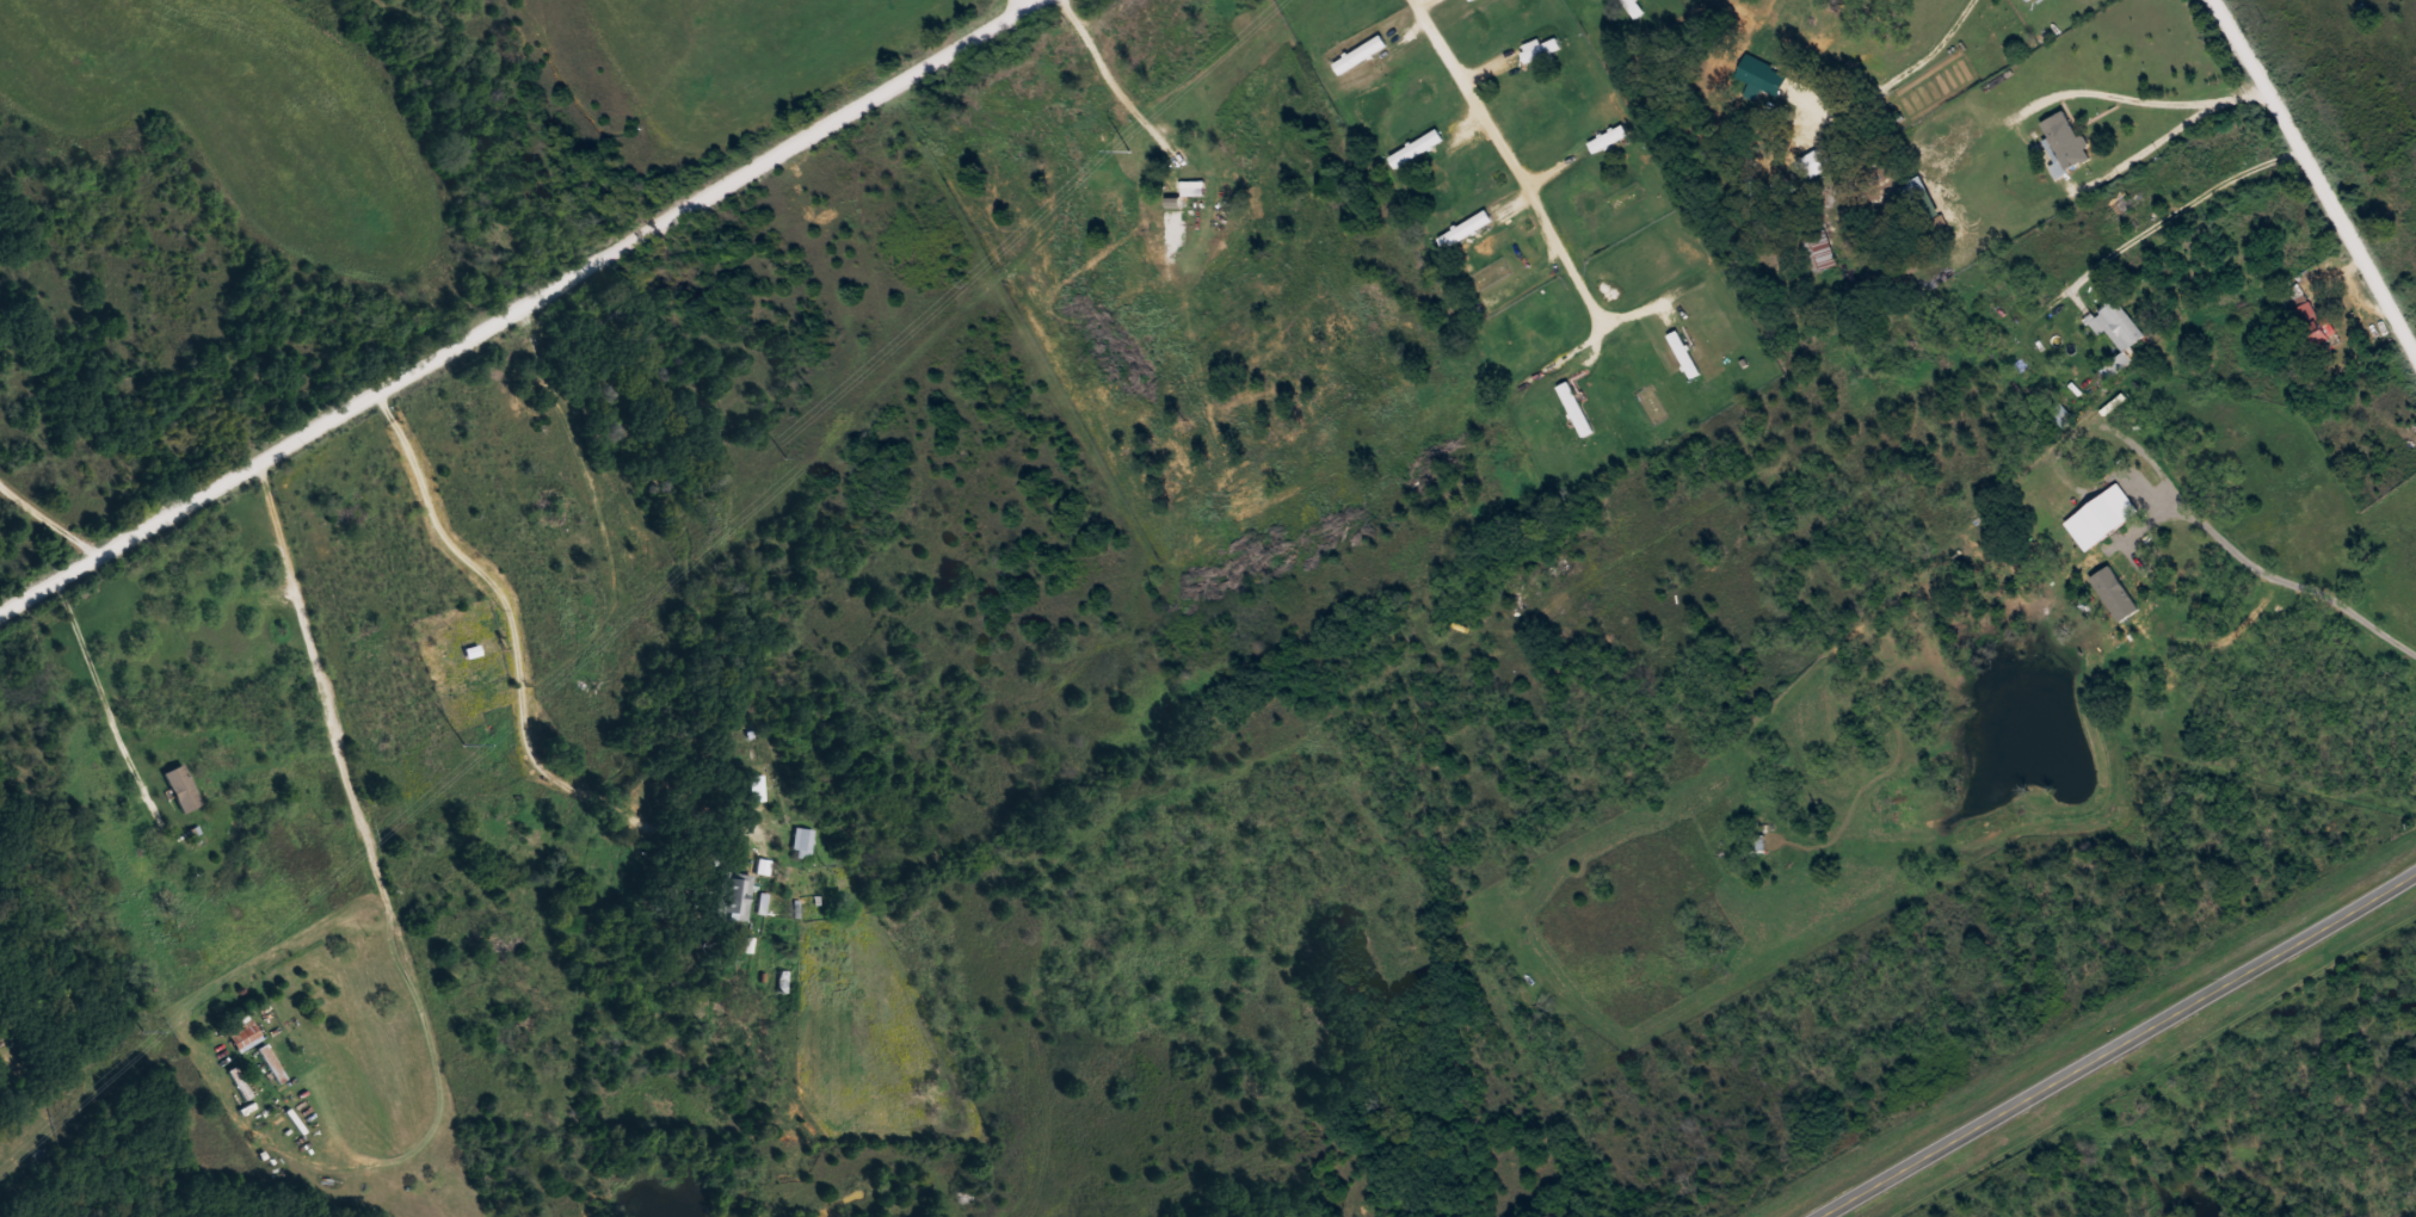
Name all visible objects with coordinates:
road: (1033, 4)
road: (1042, 4)
building: (1545, 48)
building: (1363, 54)
building: (1610, 137)
building: (2066, 142)
building: (1419, 147)
road: (2321, 167)
building: (1195, 187)
building: (1927, 204)
building: (1467, 229)
building: (1825, 248)
road: (518, 313)
building: (2310, 314)
building: (2120, 333)
building: (1687, 353)
building: (1578, 408)
building: (2065, 414)
road: (91, 712)
building: (757, 785)
building: (184, 786)
building: (803, 841)
building: (738, 895)
building: (247, 1033)
road: (2118, 1038)
building: (273, 1062)
building: (241, 1081)

